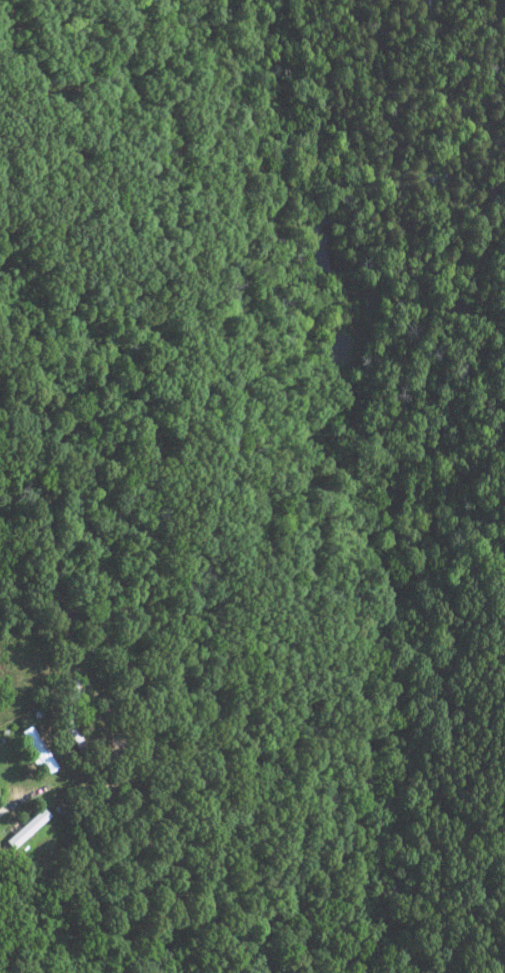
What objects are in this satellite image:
building: (35, 748)
road: (12, 798)
building: (24, 827)

